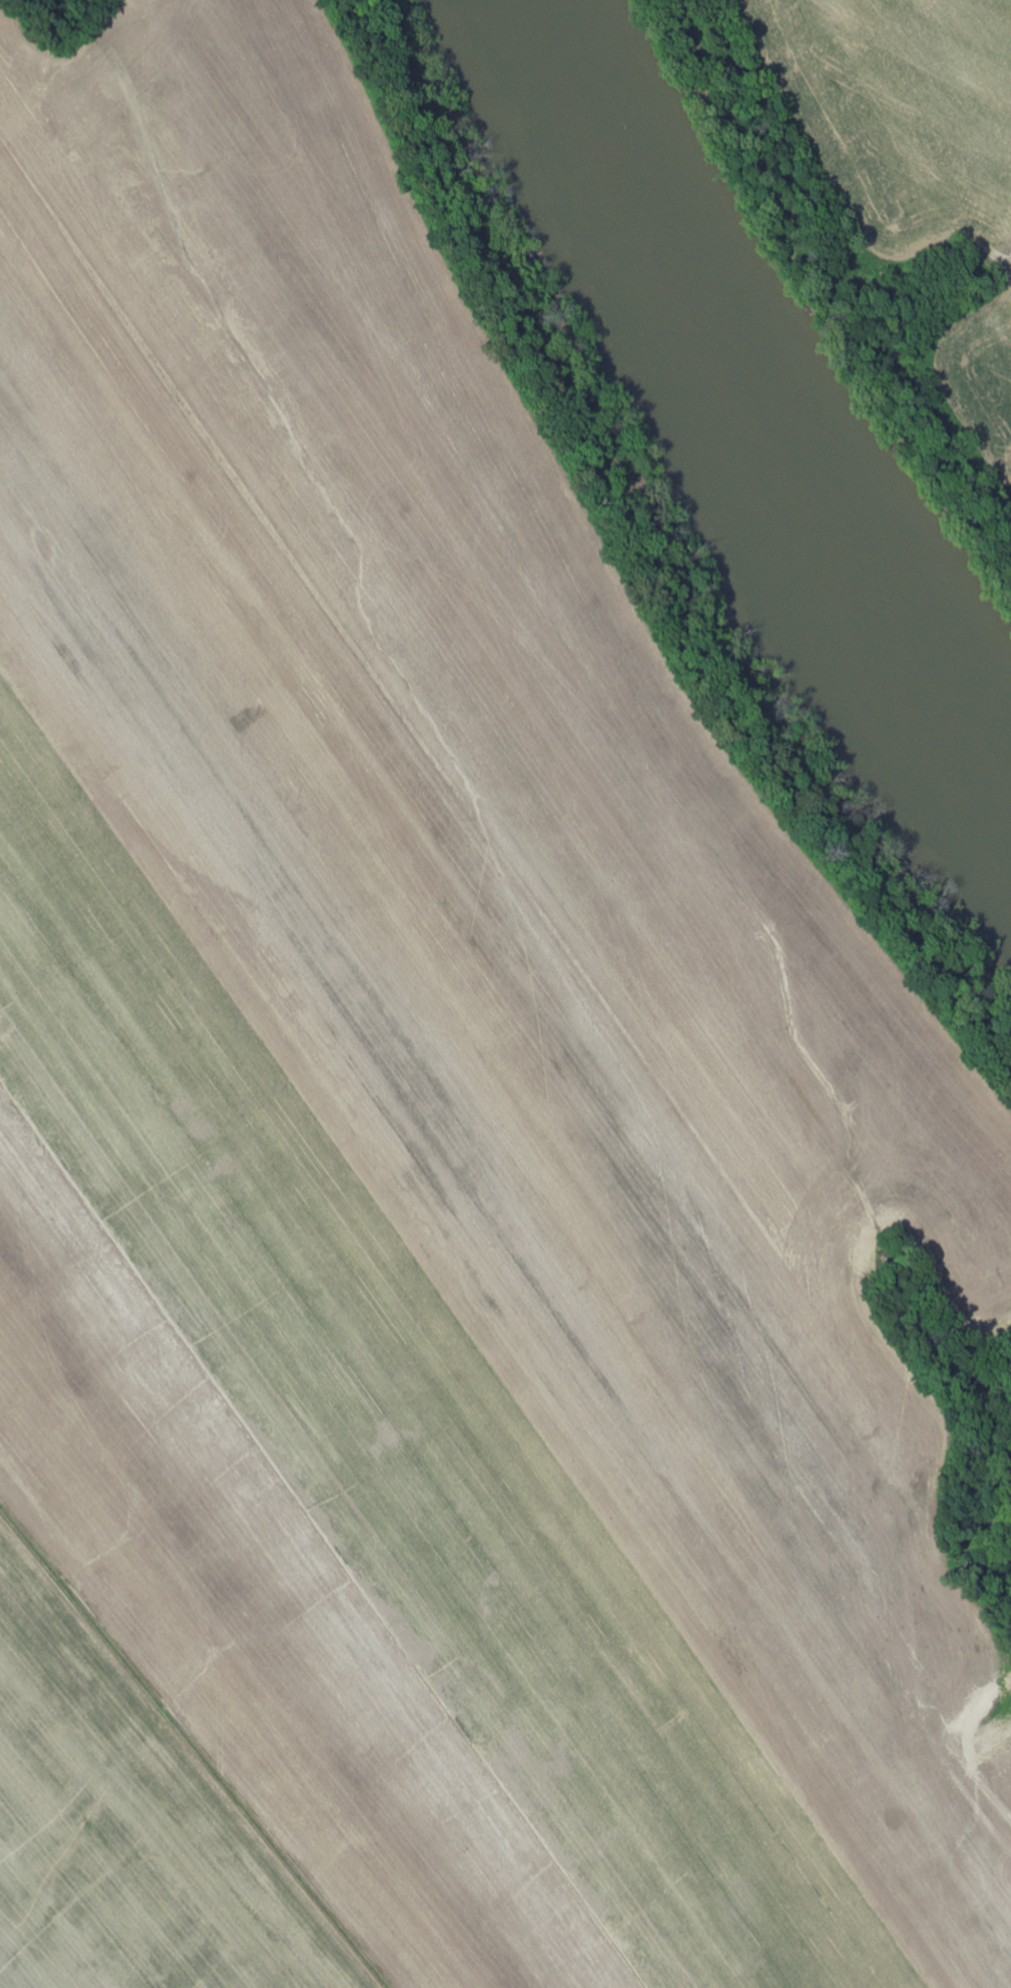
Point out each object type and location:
river: (734, 416)
road: (72, 1873)

